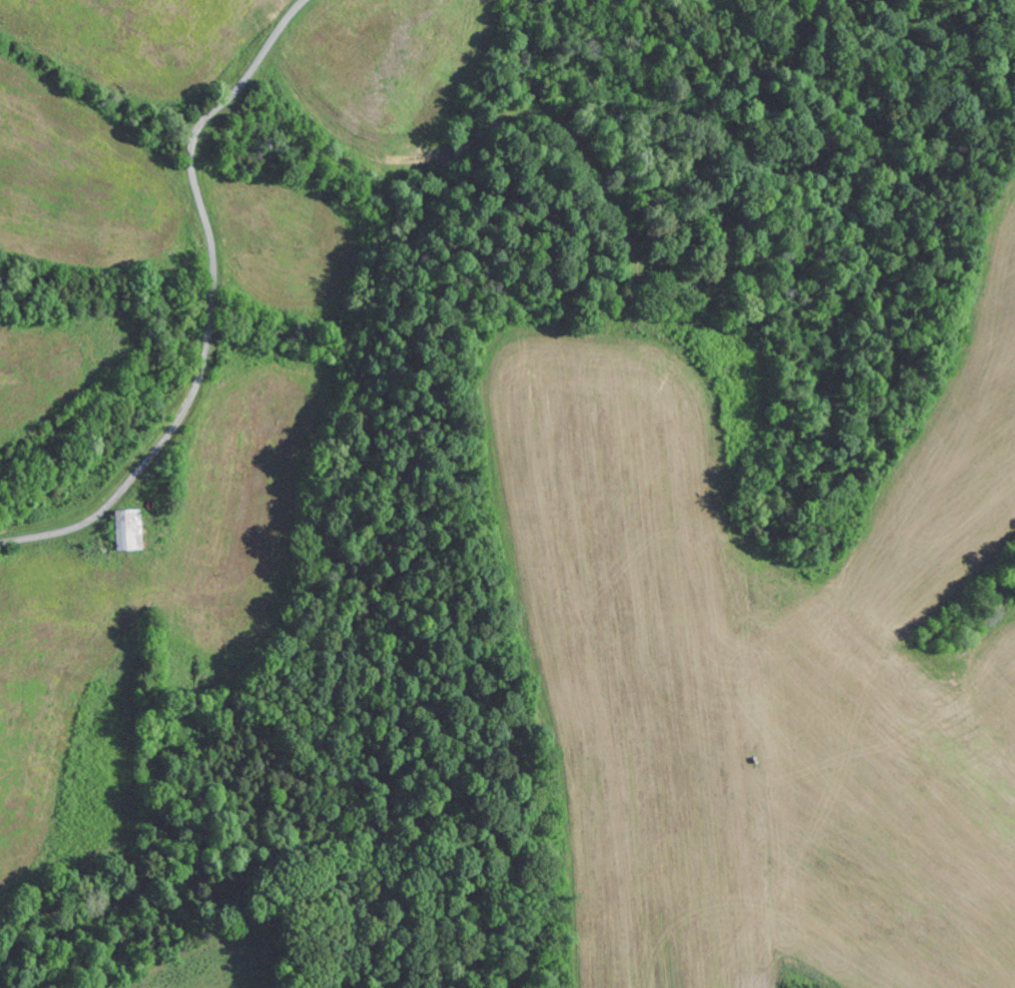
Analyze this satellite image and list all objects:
road: (213, 305)

